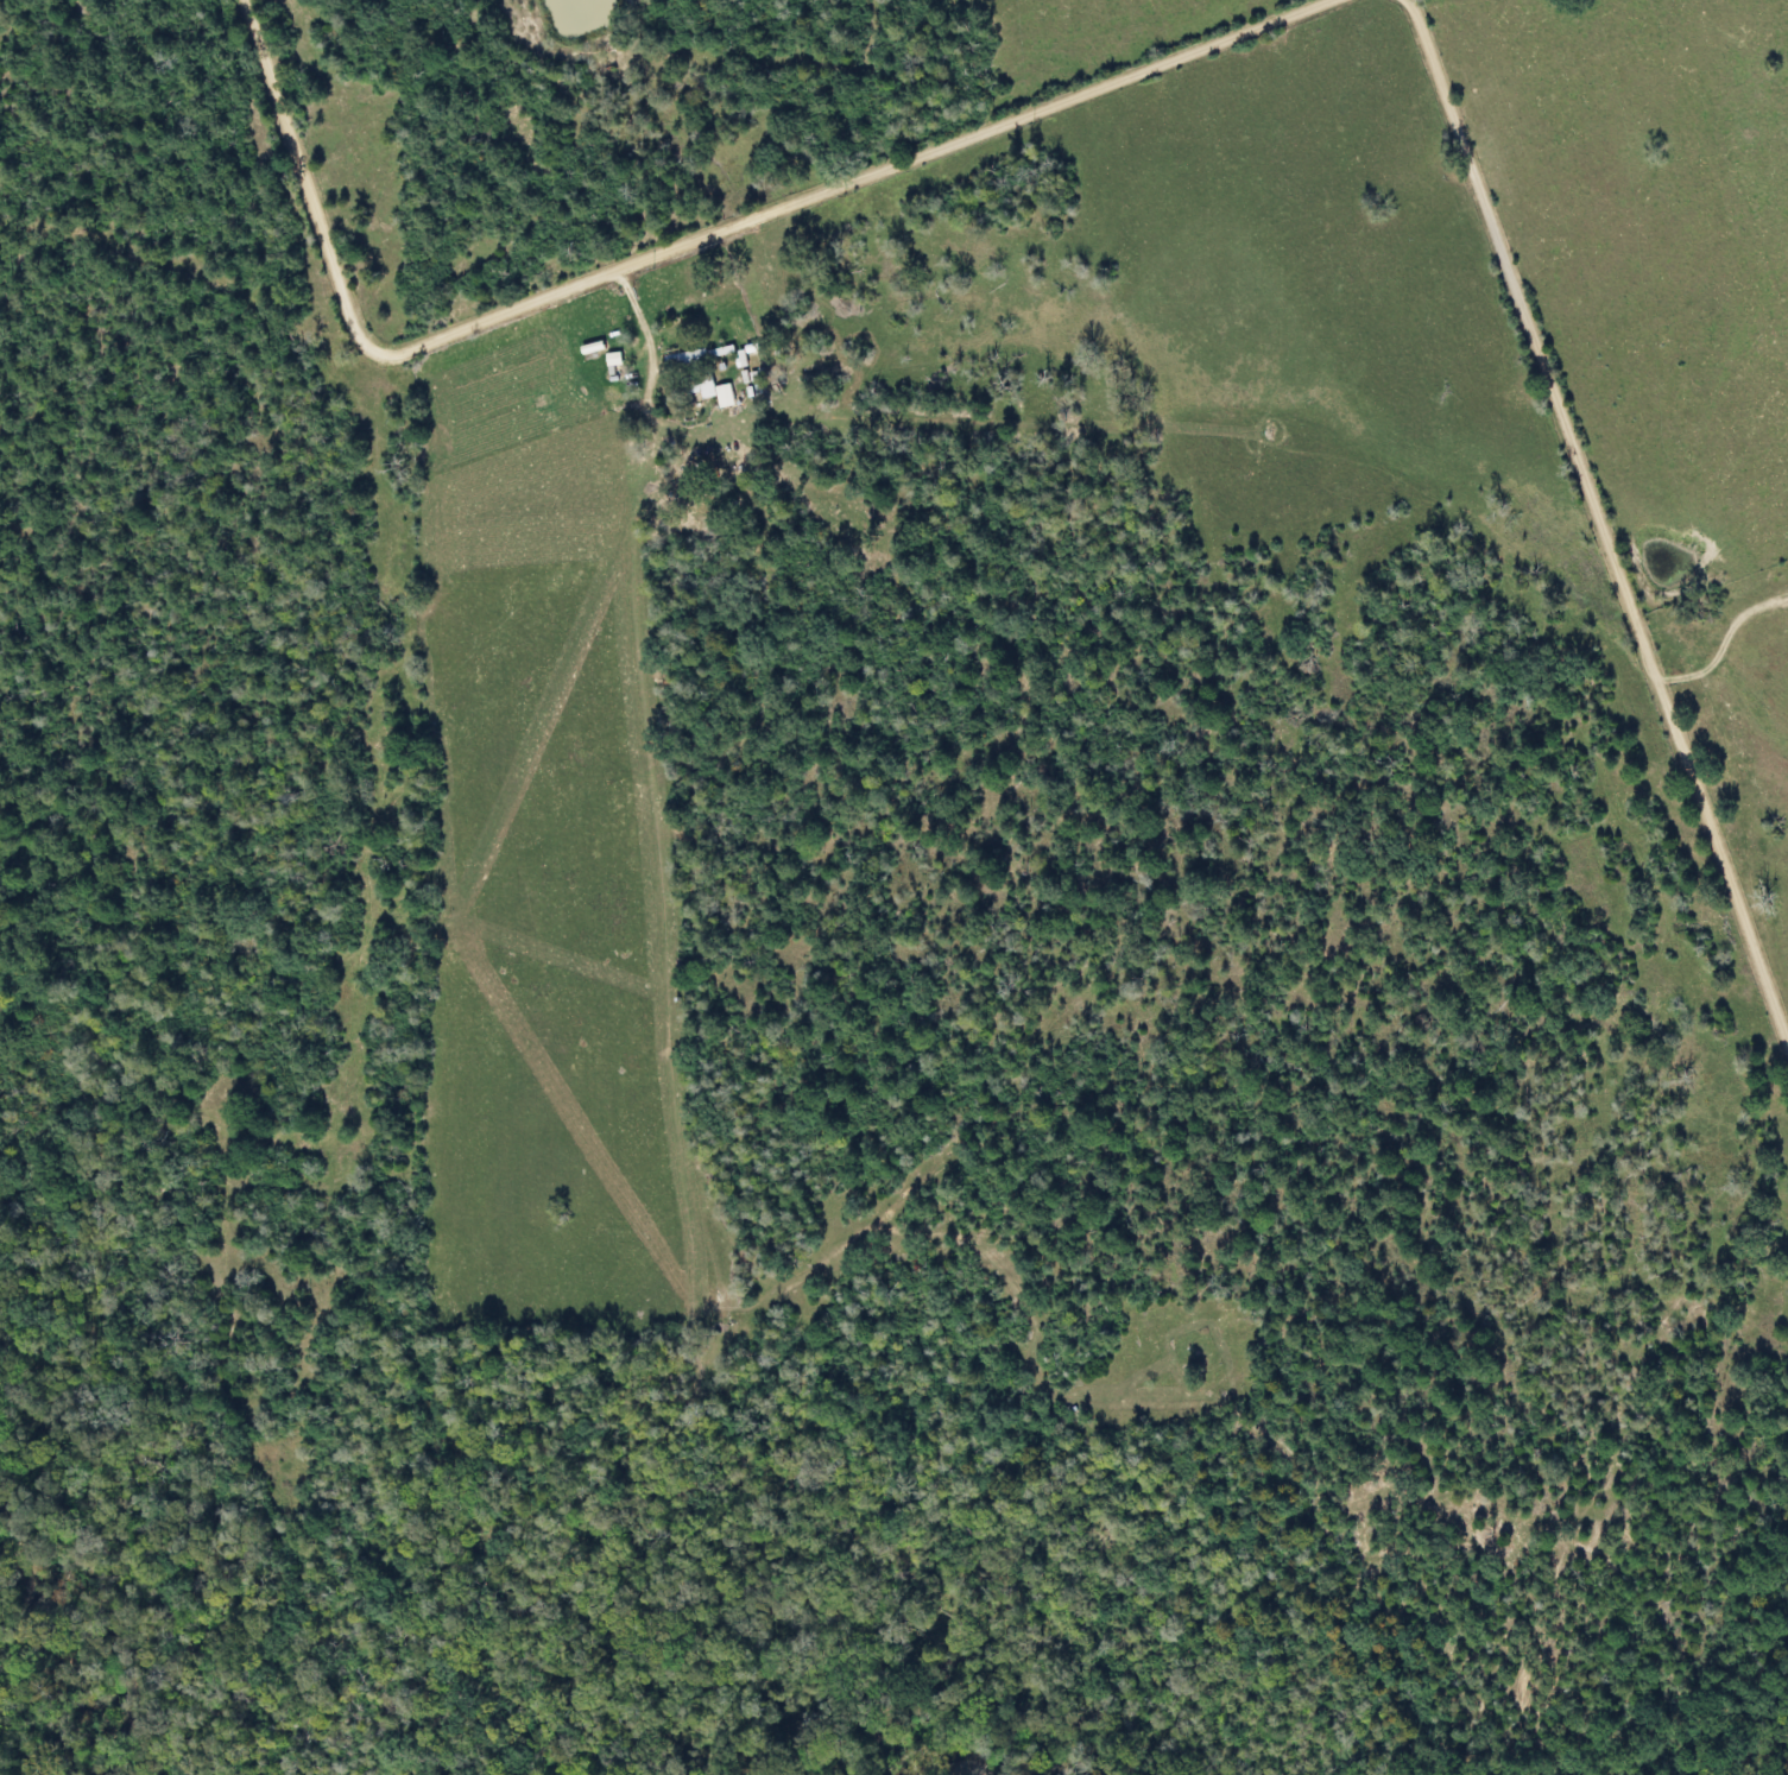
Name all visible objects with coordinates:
road: (683, 245)
building: (729, 355)
building: (685, 358)
building: (706, 386)
building: (678, 394)
road: (1603, 510)

